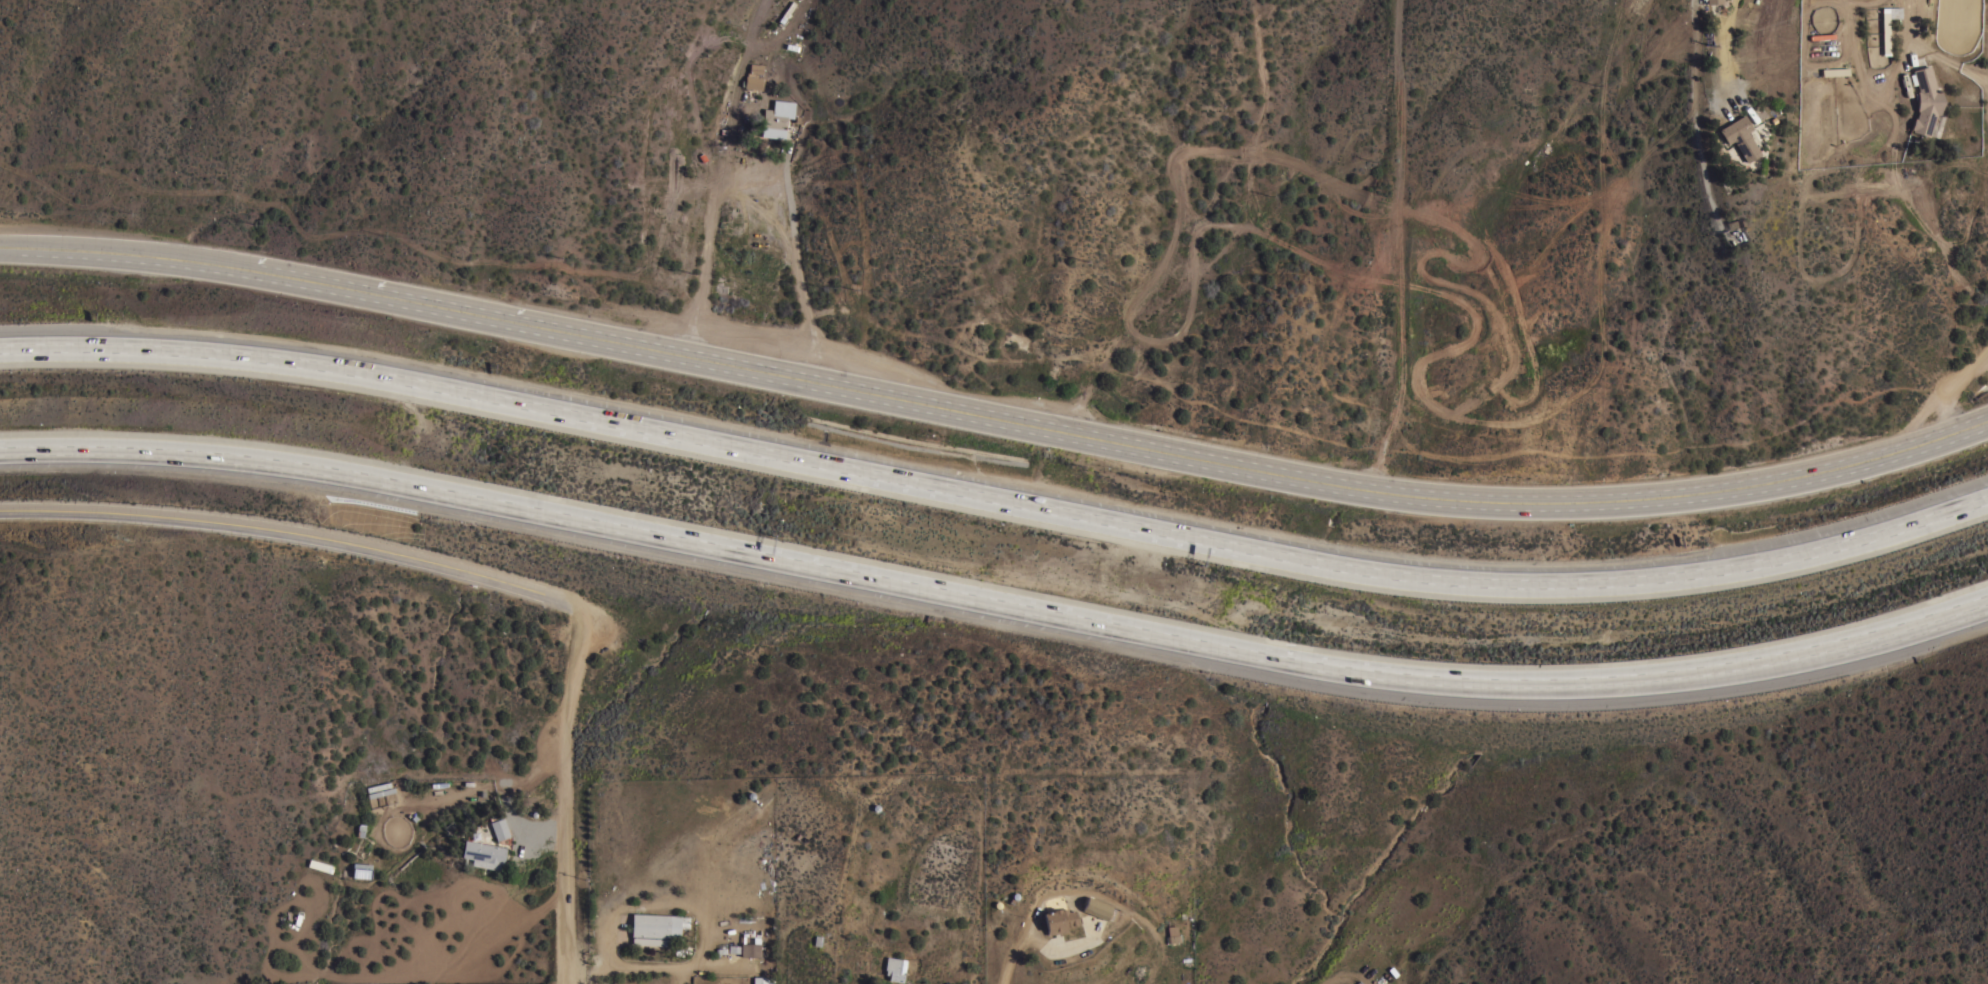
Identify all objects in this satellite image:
building: (1711, 1)
building: (786, 12)
building: (1887, 27)
building: (1822, 42)
road: (1915, 43)
road: (1720, 50)
road: (1970, 69)
building: (753, 77)
building: (1925, 101)
building: (776, 119)
building: (1738, 137)
road: (706, 239)
road: (1399, 248)
road: (797, 265)
road: (1981, 366)
road: (1958, 394)
road: (994, 420)
road: (995, 494)
road: (294, 528)
road: (995, 588)
building: (380, 792)
road: (567, 792)
building: (398, 825)
building: (498, 826)
building: (483, 854)
building: (361, 870)
building: (1100, 909)
building: (1059, 920)
building: (654, 928)
building: (1172, 934)
road: (1363, 934)
building: (745, 949)
road: (1011, 952)
building: (895, 968)
building: (760, 980)
building: (1387, 983)
building: (1390, 983)

